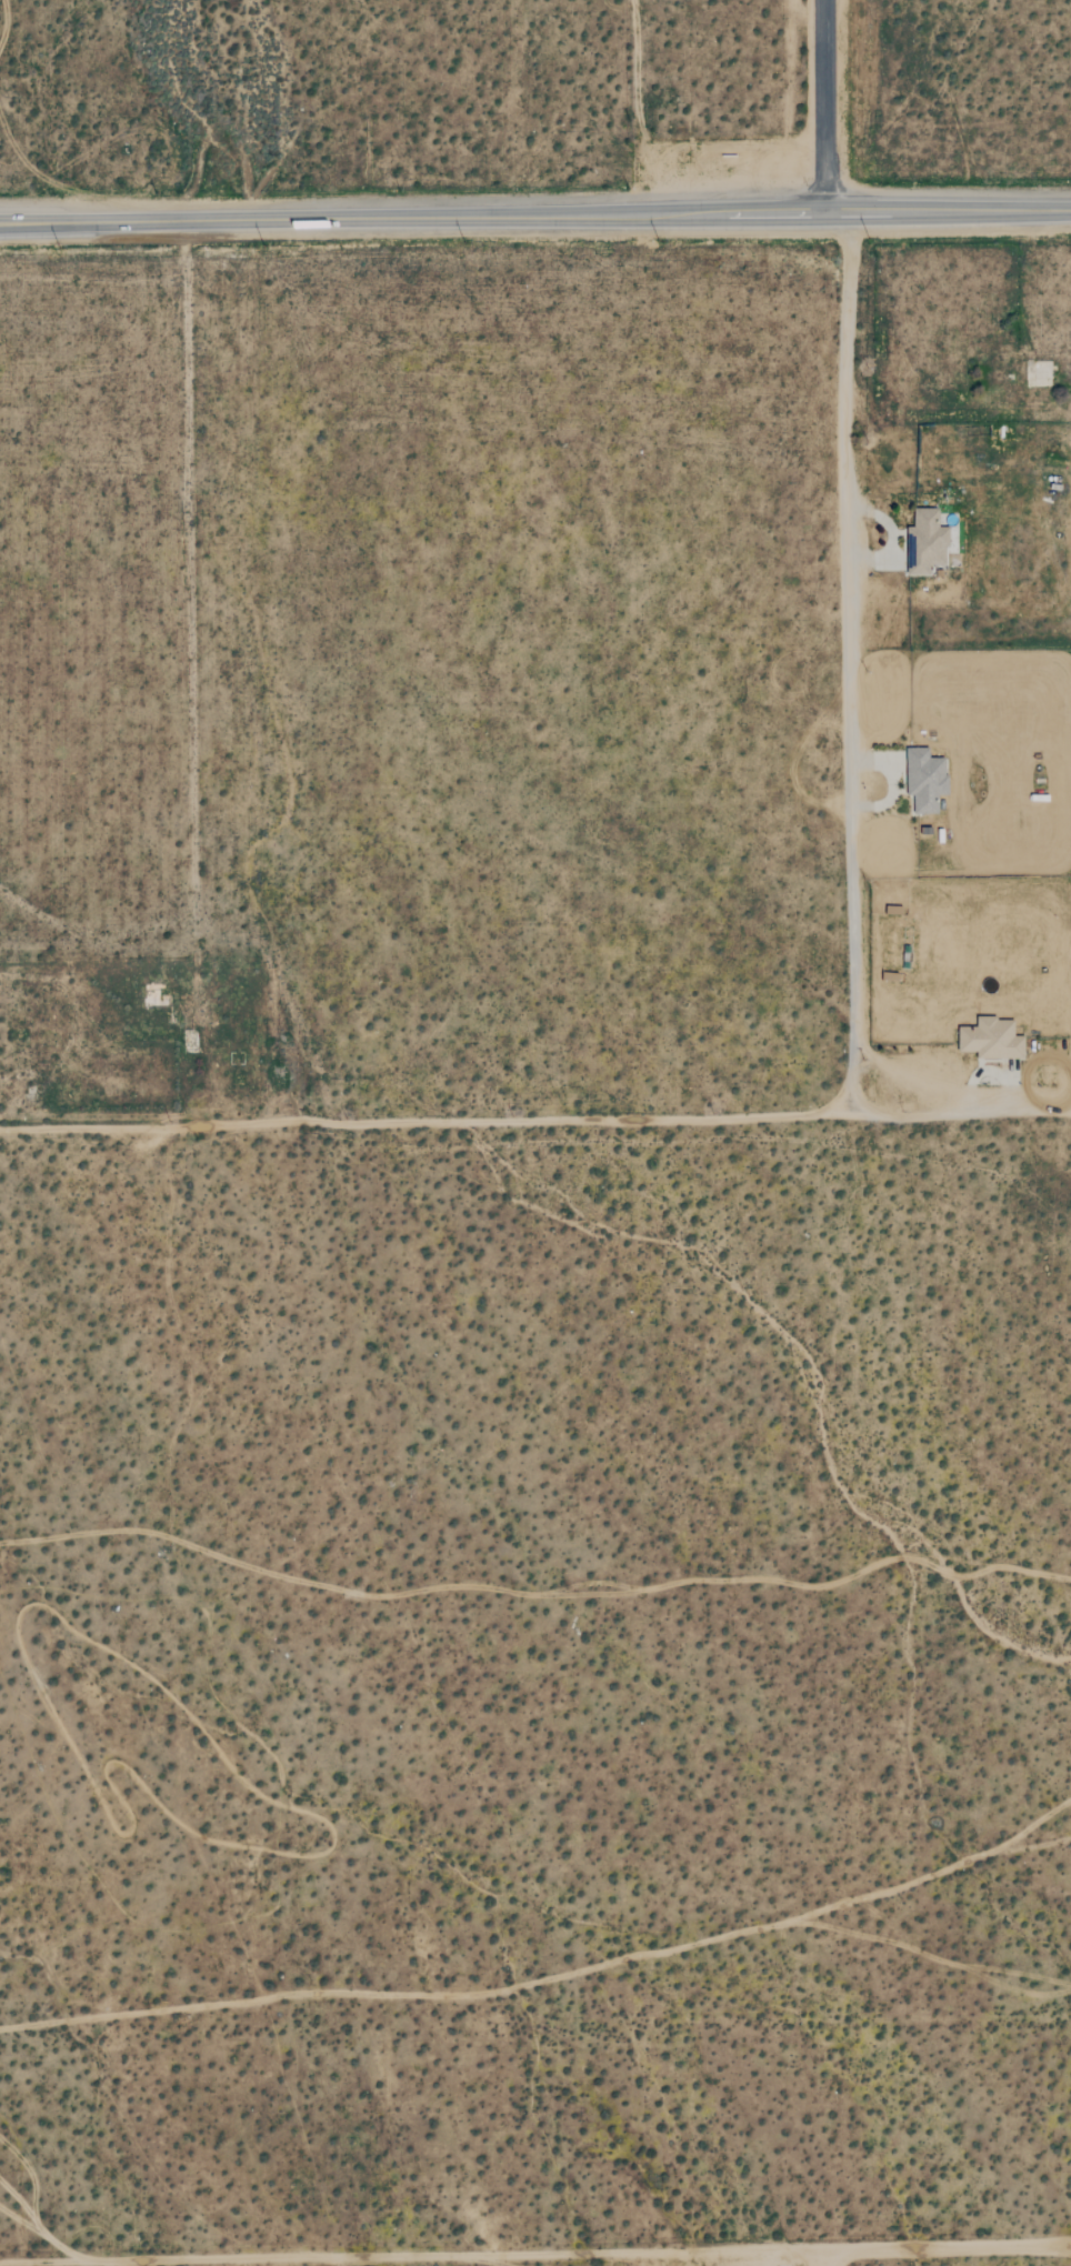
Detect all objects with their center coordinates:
road: (824, 104)
road: (534, 213)
road: (899, 538)
building: (925, 542)
road: (851, 660)
building: (925, 779)
building: (989, 1037)
road: (535, 1125)
road: (534, 2254)
road: (830, 2257)

